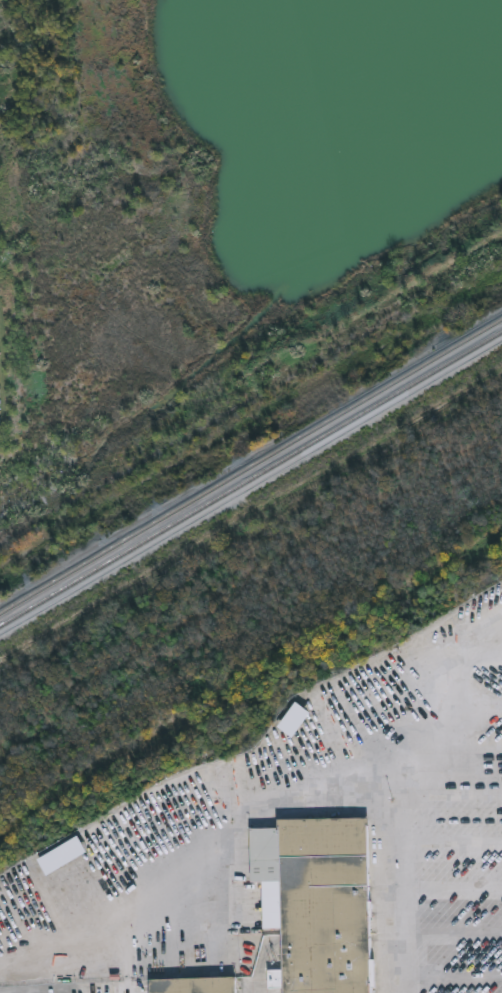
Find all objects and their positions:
railway: (251, 465)
railway: (251, 477)
road: (423, 686)
road: (284, 790)
building: (319, 901)
road: (445, 969)
building: (193, 986)

